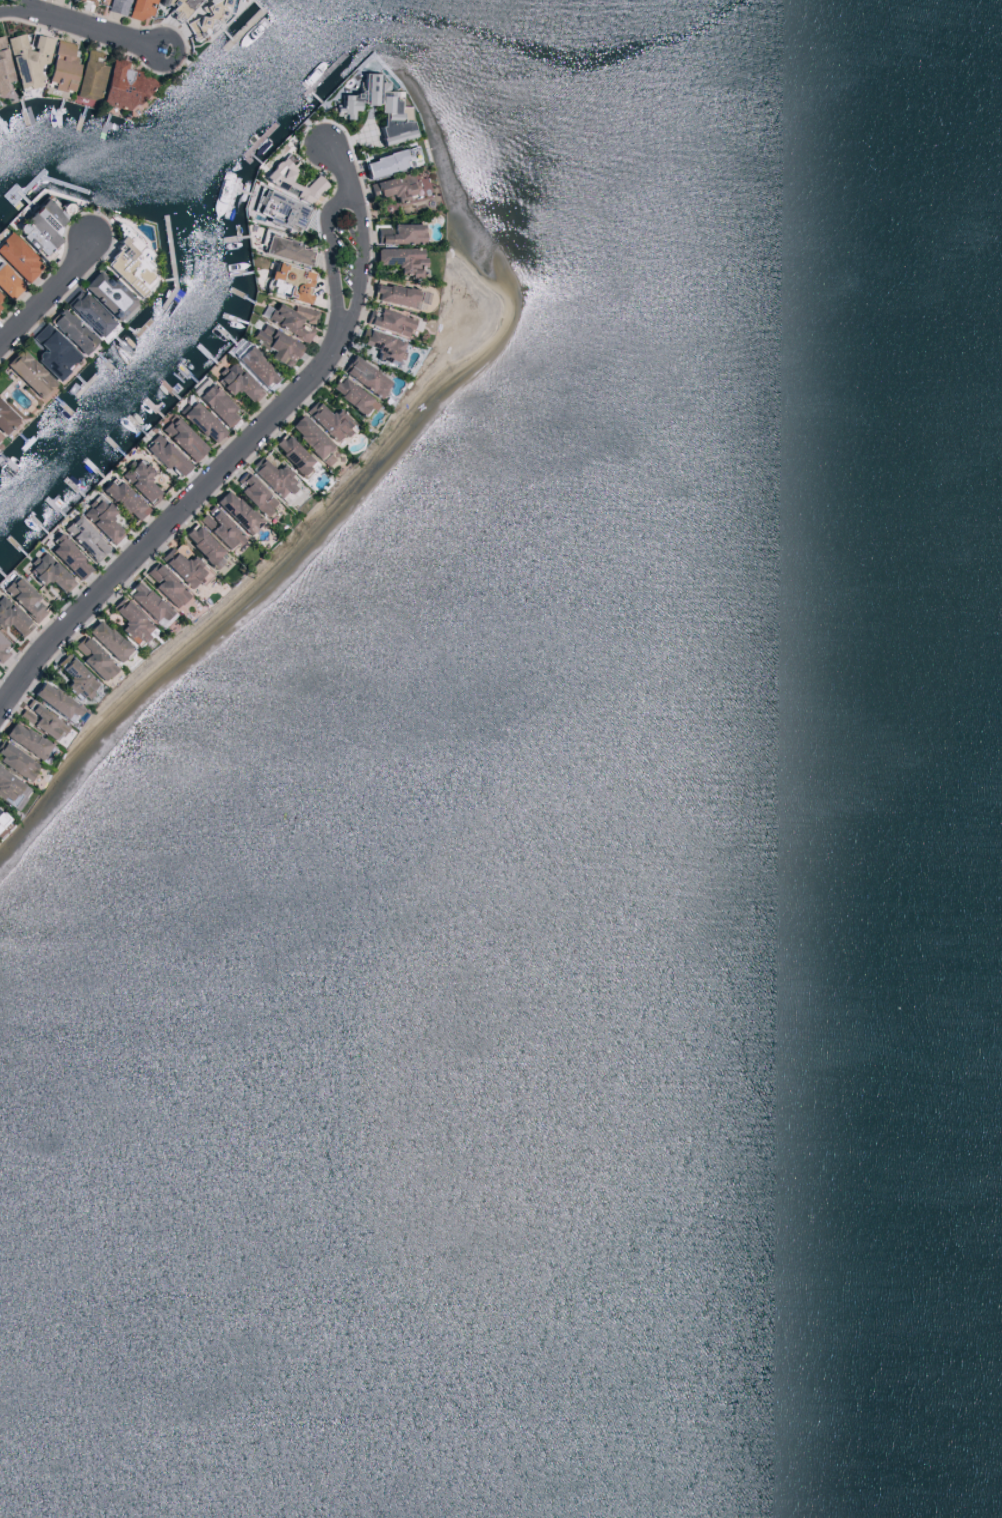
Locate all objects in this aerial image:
building: (92, 0)
building: (116, 6)
building: (177, 6)
building: (140, 8)
road: (84, 24)
building: (27, 58)
building: (60, 65)
building: (3, 71)
building: (87, 75)
building: (124, 85)
building: (388, 104)
building: (389, 160)
building: (275, 177)
building: (392, 187)
building: (278, 209)
building: (38, 226)
building: (400, 233)
building: (285, 249)
building: (17, 257)
building: (399, 257)
building: (127, 261)
building: (288, 281)
building: (7, 283)
building: (106, 294)
building: (0, 295)
road: (50, 297)
building: (87, 313)
building: (291, 319)
building: (388, 320)
building: (70, 330)
building: (275, 343)
building: (382, 345)
building: (52, 351)
building: (254, 366)
building: (27, 372)
building: (364, 375)
building: (236, 382)
building: (349, 394)
building: (215, 403)
building: (5, 419)
building: (328, 420)
building: (200, 421)
building: (307, 435)
building: (181, 438)
building: (163, 453)
building: (290, 453)
road: (242, 454)
building: (273, 478)
building: (138, 479)
building: (253, 493)
building: (123, 499)
building: (235, 511)
building: (100, 518)
building: (216, 527)
building: (83, 537)
building: (201, 544)
building: (66, 555)
building: (181, 566)
building: (47, 572)
building: (165, 585)
building: (22, 598)
building: (145, 601)
building: (11, 617)
building: (130, 621)
building: (105, 640)
building: (2, 650)
building: (92, 657)
building: (74, 677)
building: (54, 701)
building: (23, 739)
building: (16, 761)
building: (10, 789)
building: (1, 820)

